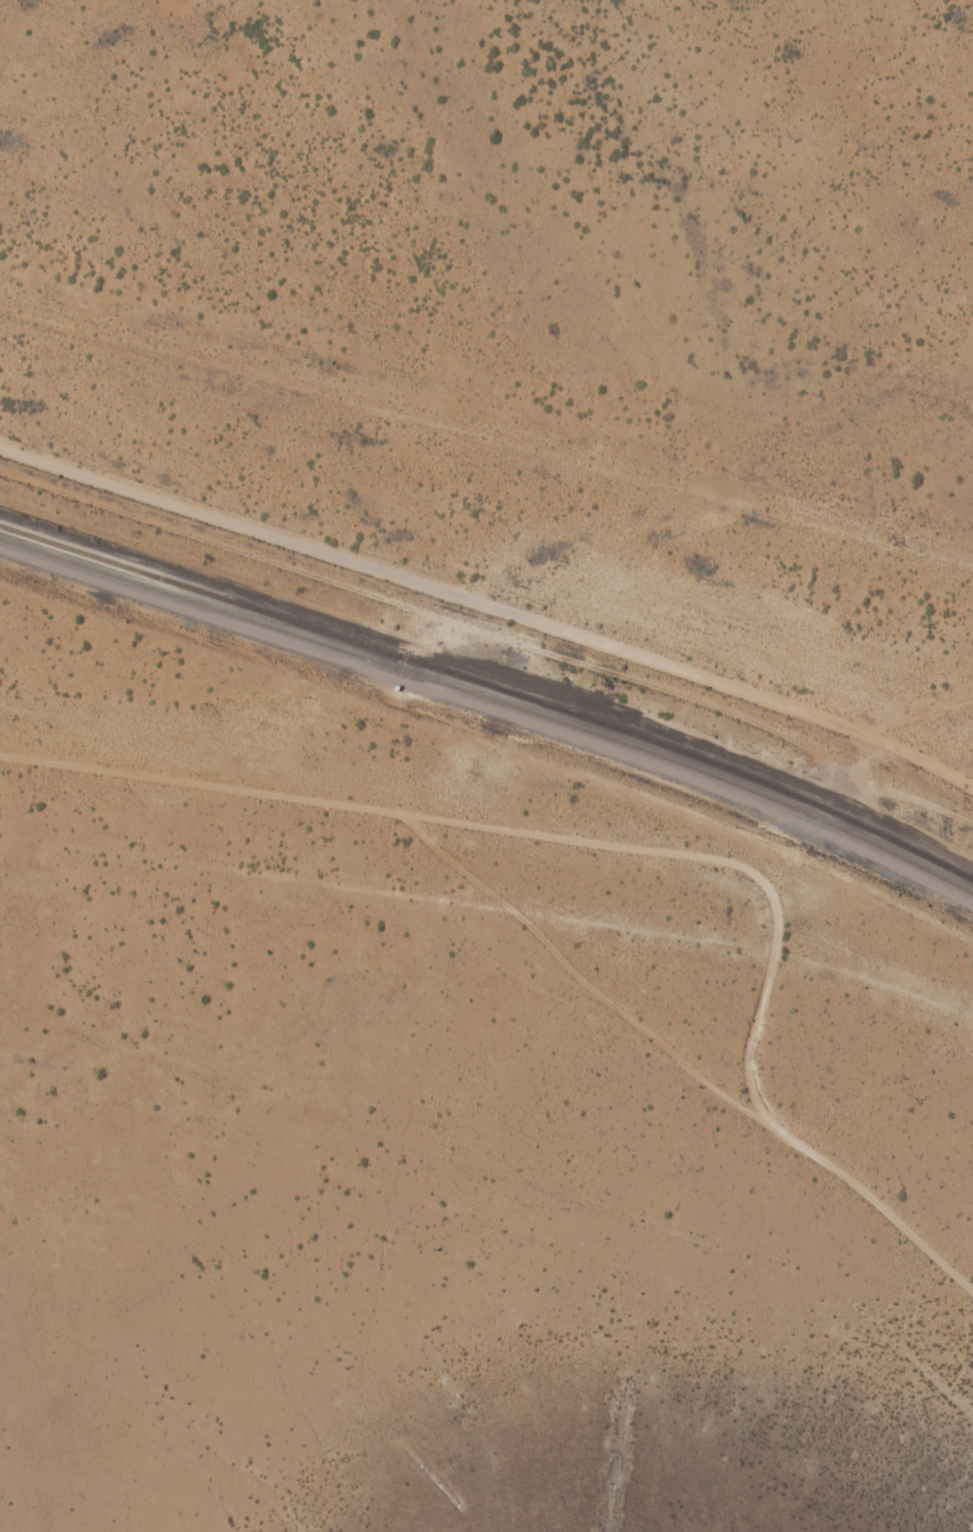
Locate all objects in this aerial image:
road: (436, 586)
road: (452, 618)
railway: (492, 687)
railway: (492, 699)
road: (919, 709)
road: (922, 760)
road: (379, 765)
road: (421, 859)
road: (806, 1160)

